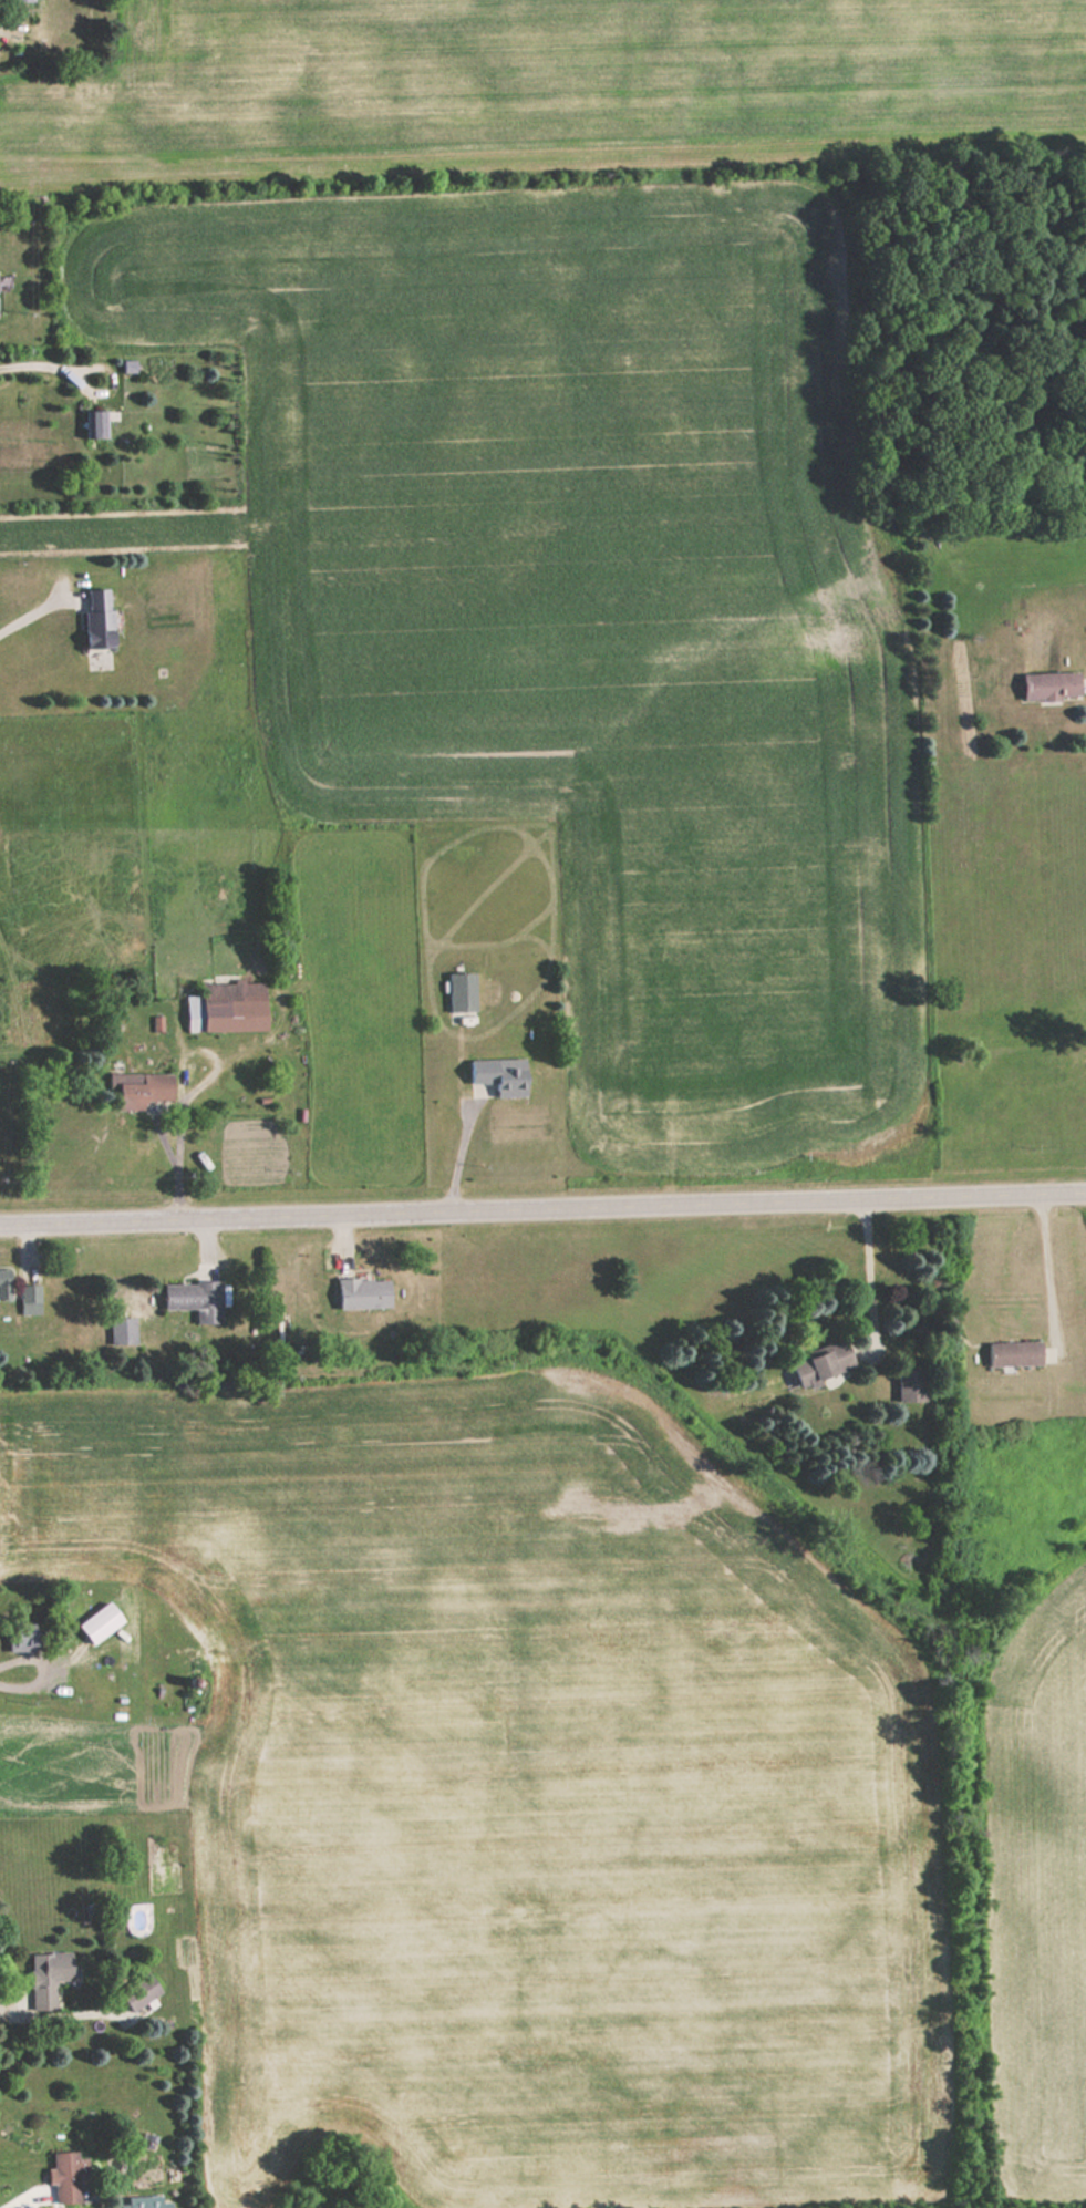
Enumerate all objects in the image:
building: (95, 424)
building: (99, 619)
building: (1049, 685)
building: (459, 990)
building: (226, 1007)
building: (500, 1073)
building: (156, 1086)
road: (542, 1201)
building: (4, 1283)
building: (363, 1292)
building: (30, 1299)
building: (194, 1299)
building: (122, 1330)
building: (1014, 1352)
building: (823, 1363)
building: (910, 1384)
building: (24, 1636)
building: (42, 1980)
building: (139, 1991)
building: (68, 2176)
building: (143, 2206)

